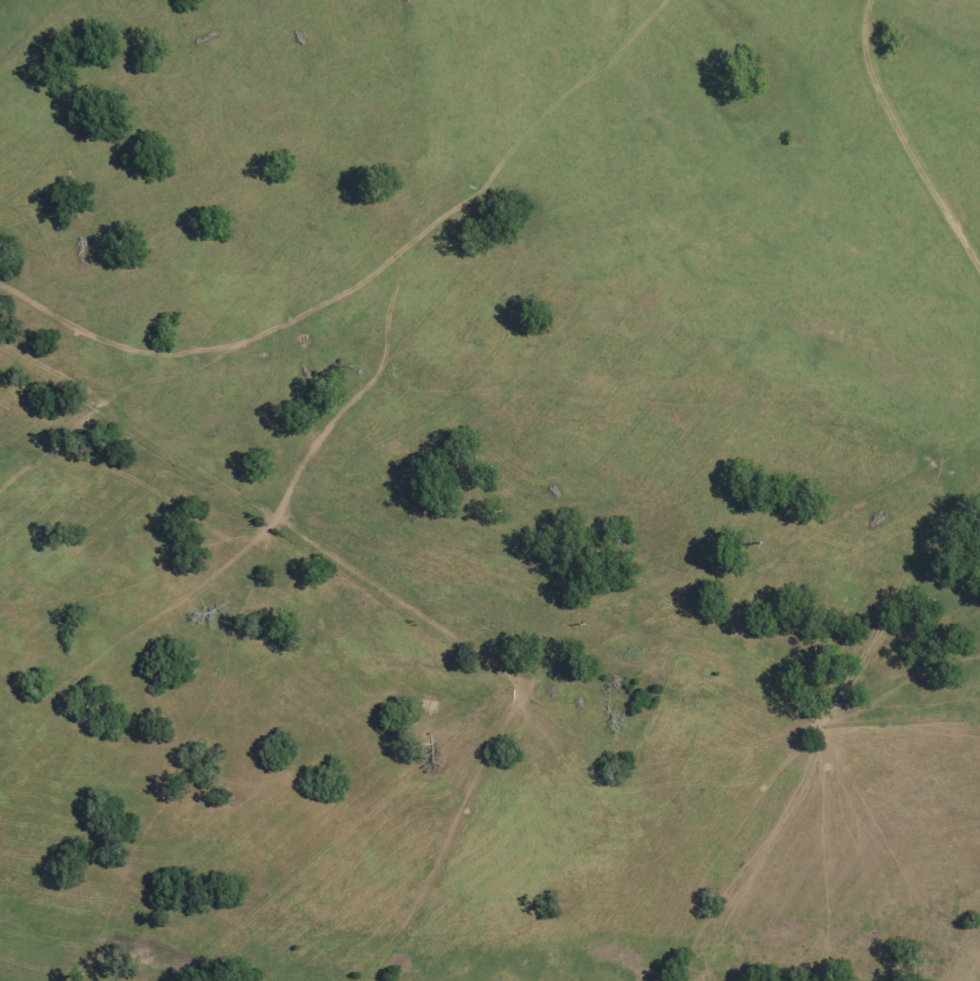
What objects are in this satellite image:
road: (902, 137)
road: (495, 160)
road: (268, 234)

